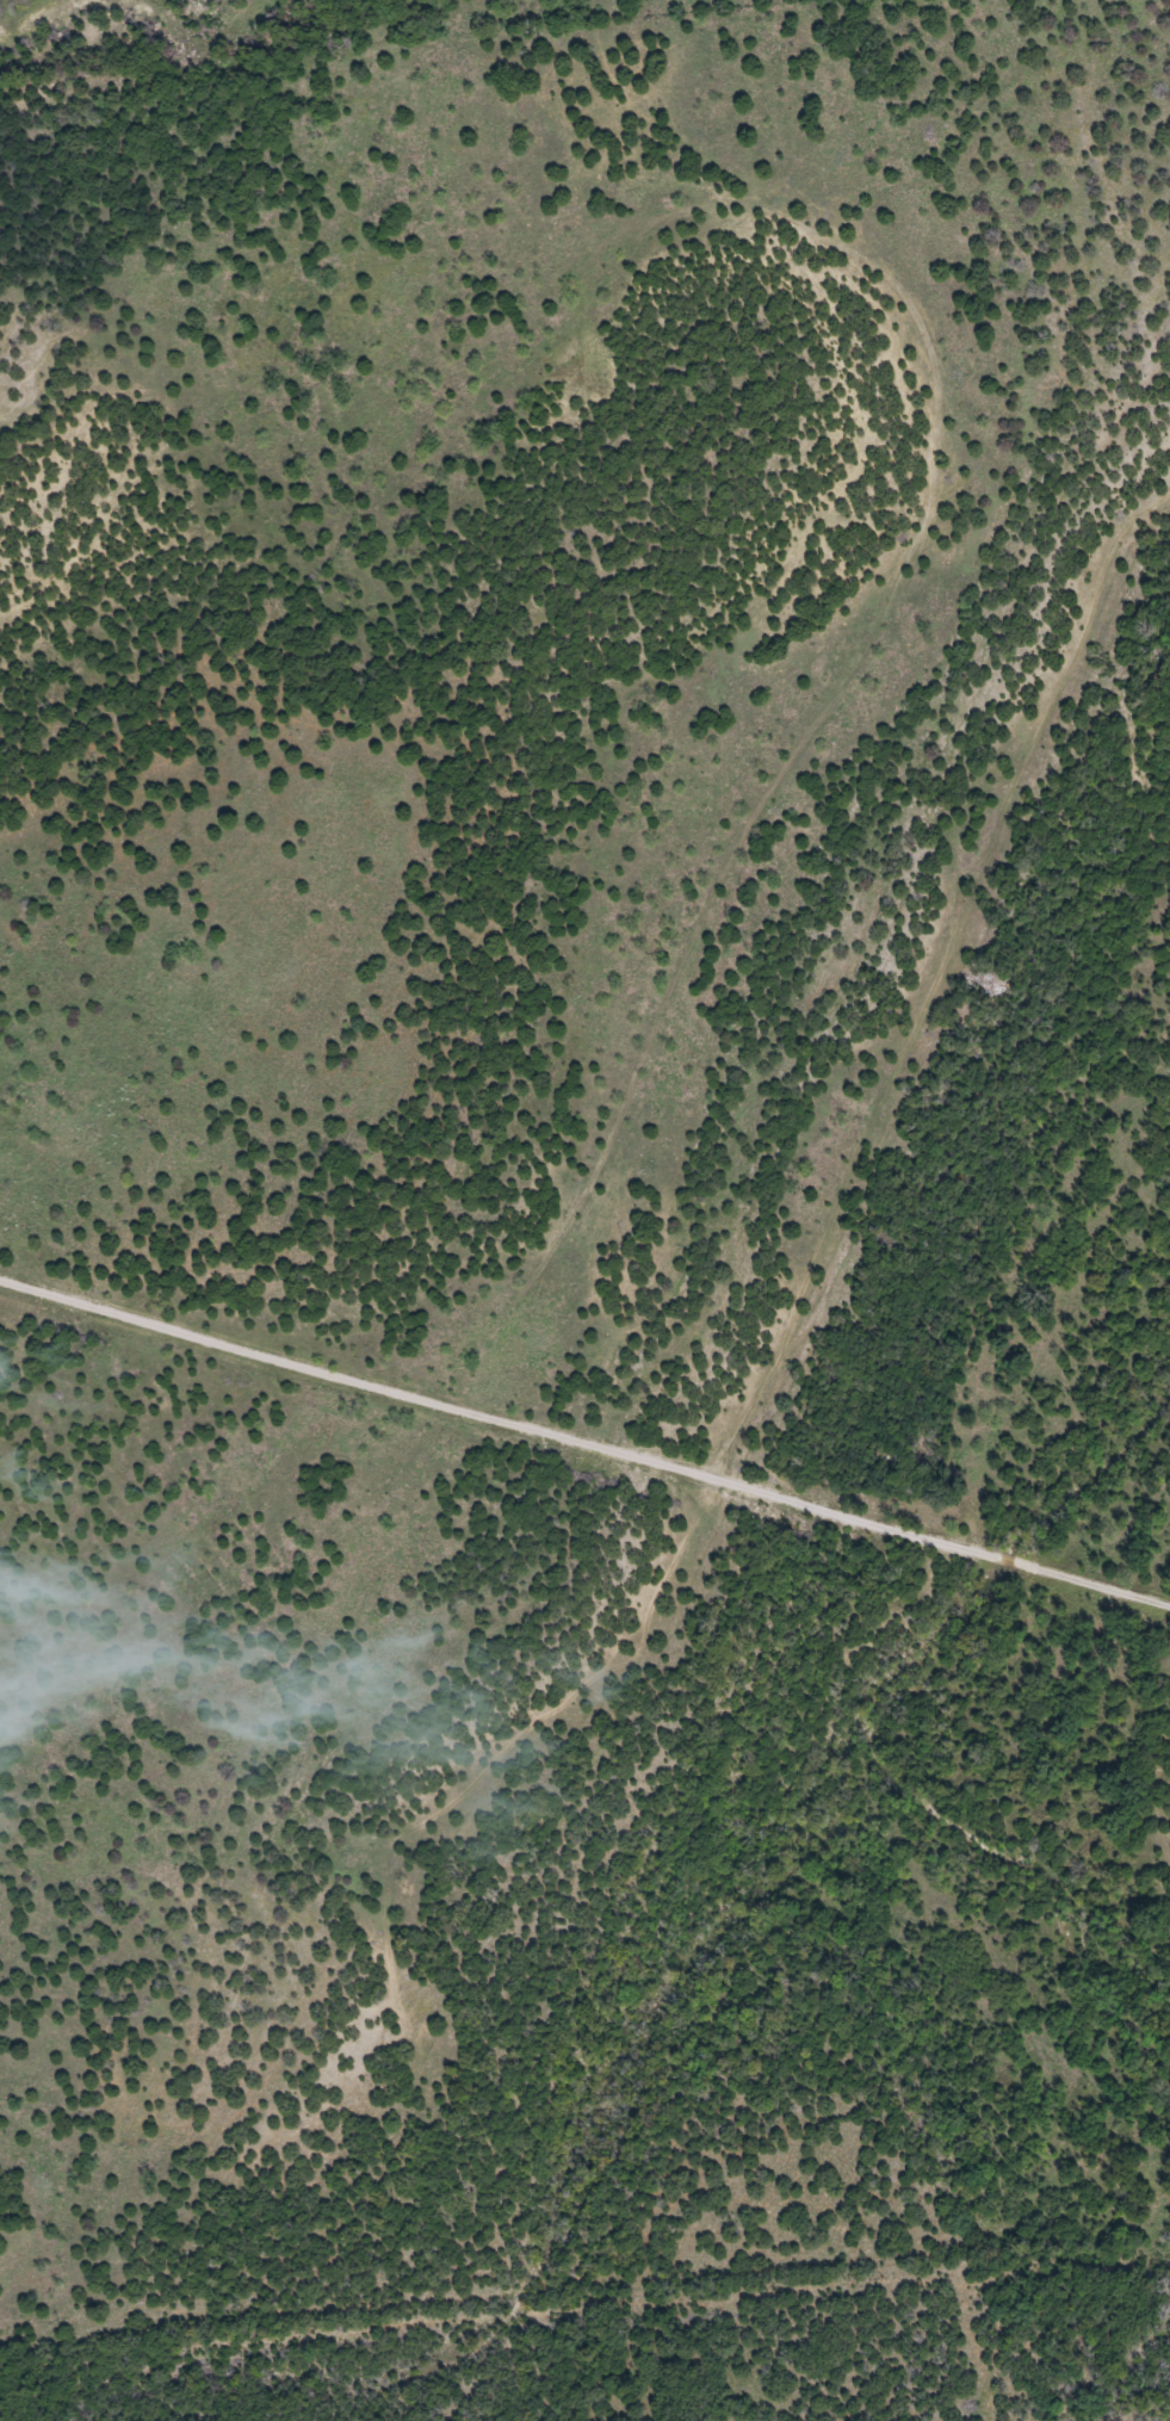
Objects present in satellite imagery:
road: (577, 304)
road: (809, 733)
road: (583, 1441)

